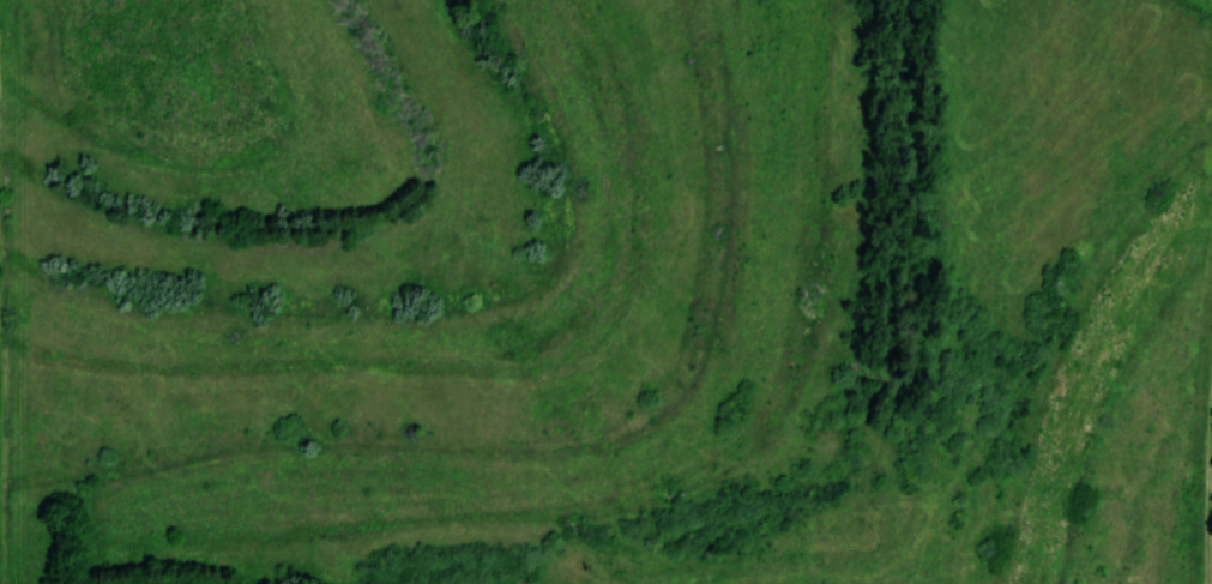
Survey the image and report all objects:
road: (1211, 538)

